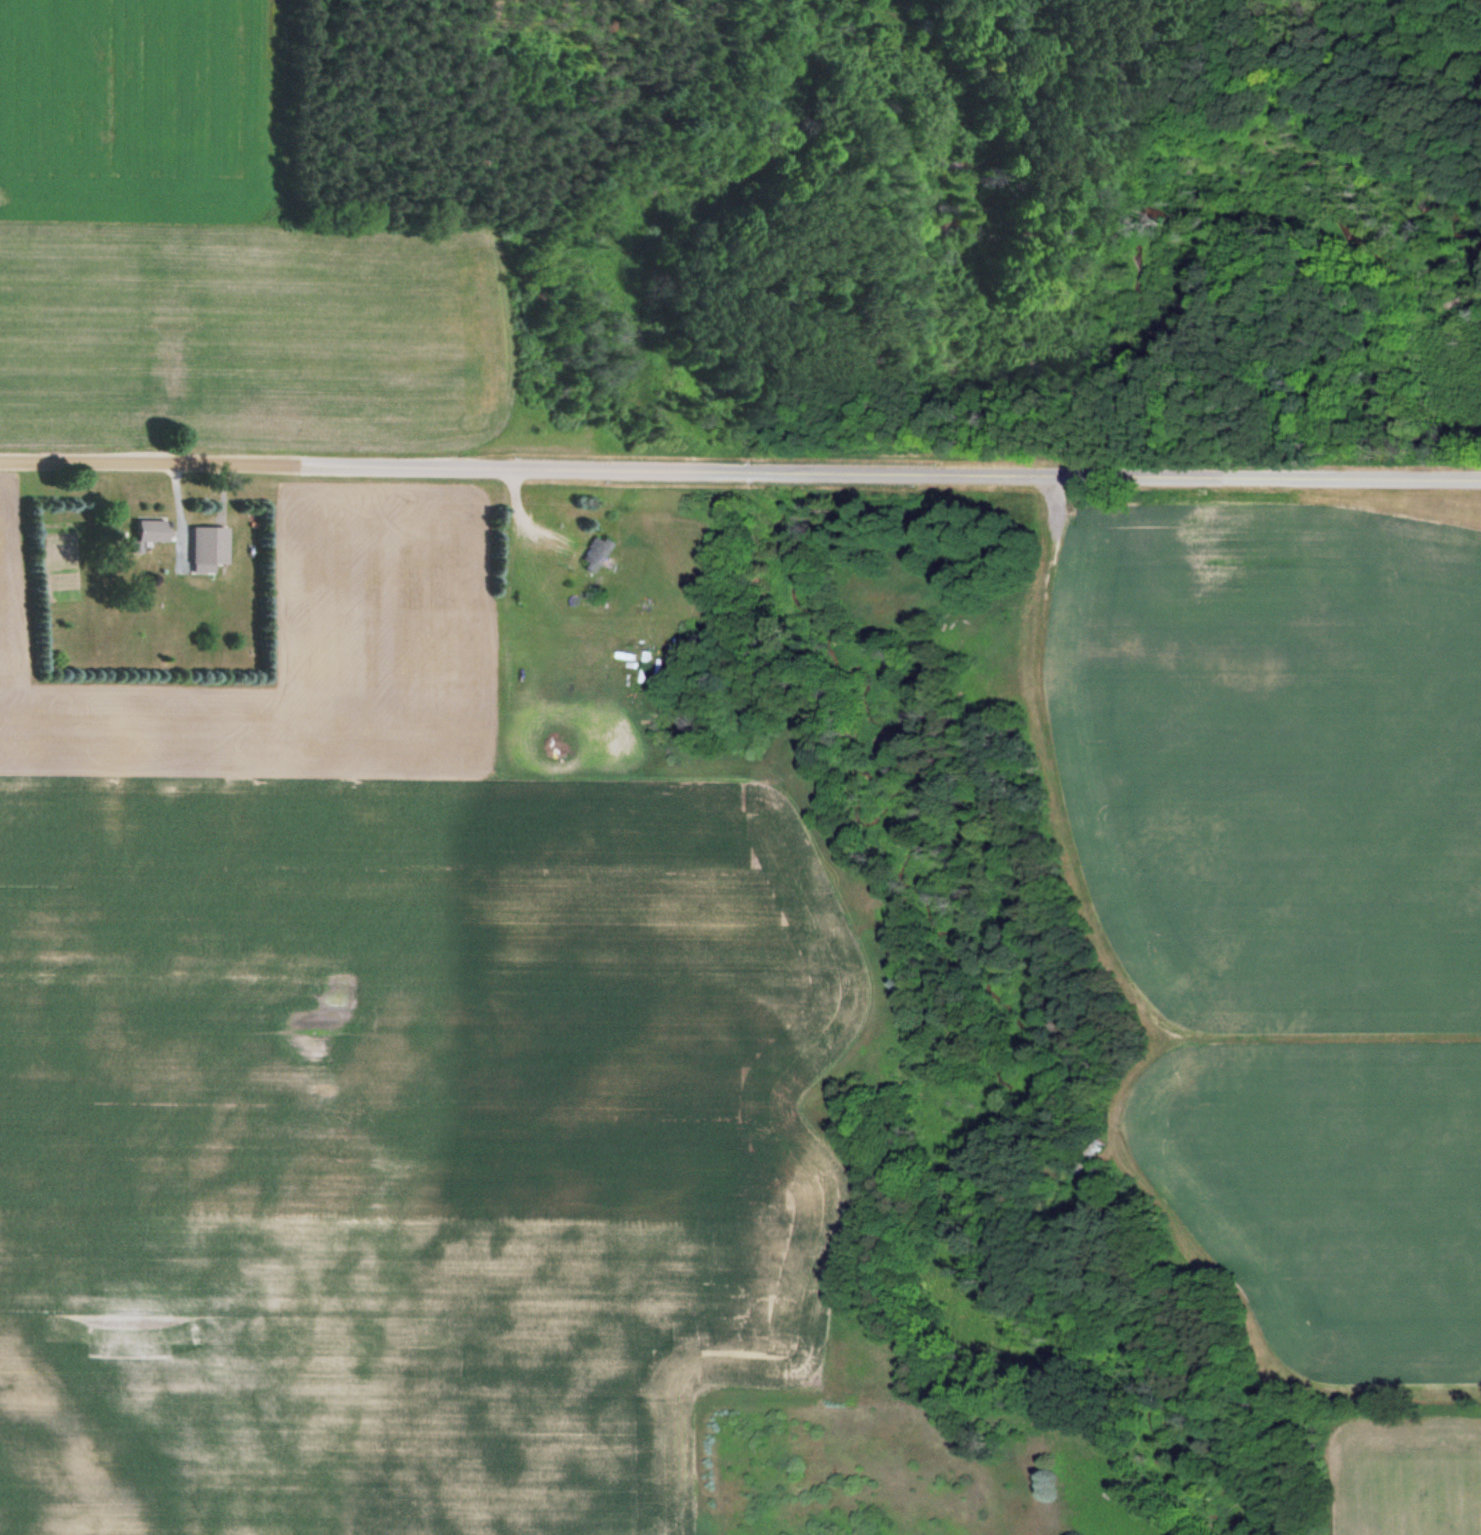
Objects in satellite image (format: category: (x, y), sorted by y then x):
road: (740, 466)
building: (153, 531)
building: (208, 548)

